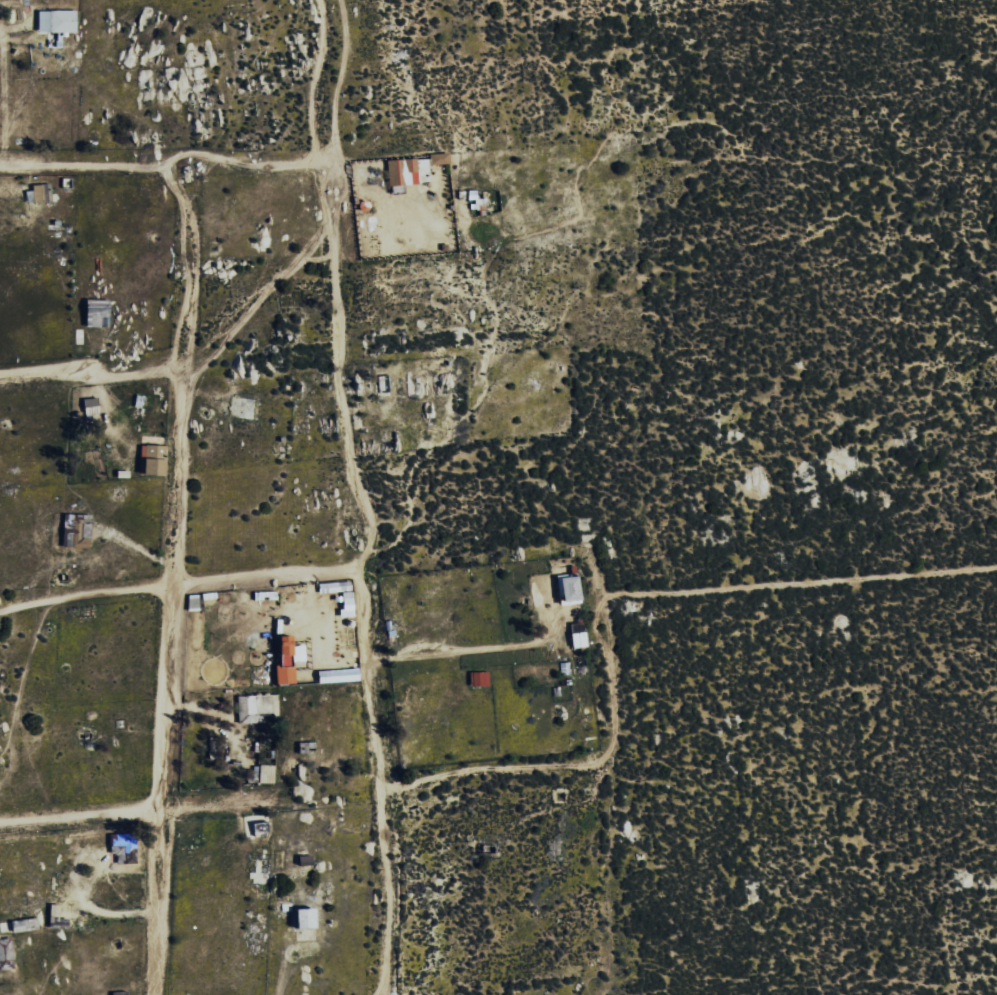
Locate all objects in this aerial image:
road: (311, 80)

